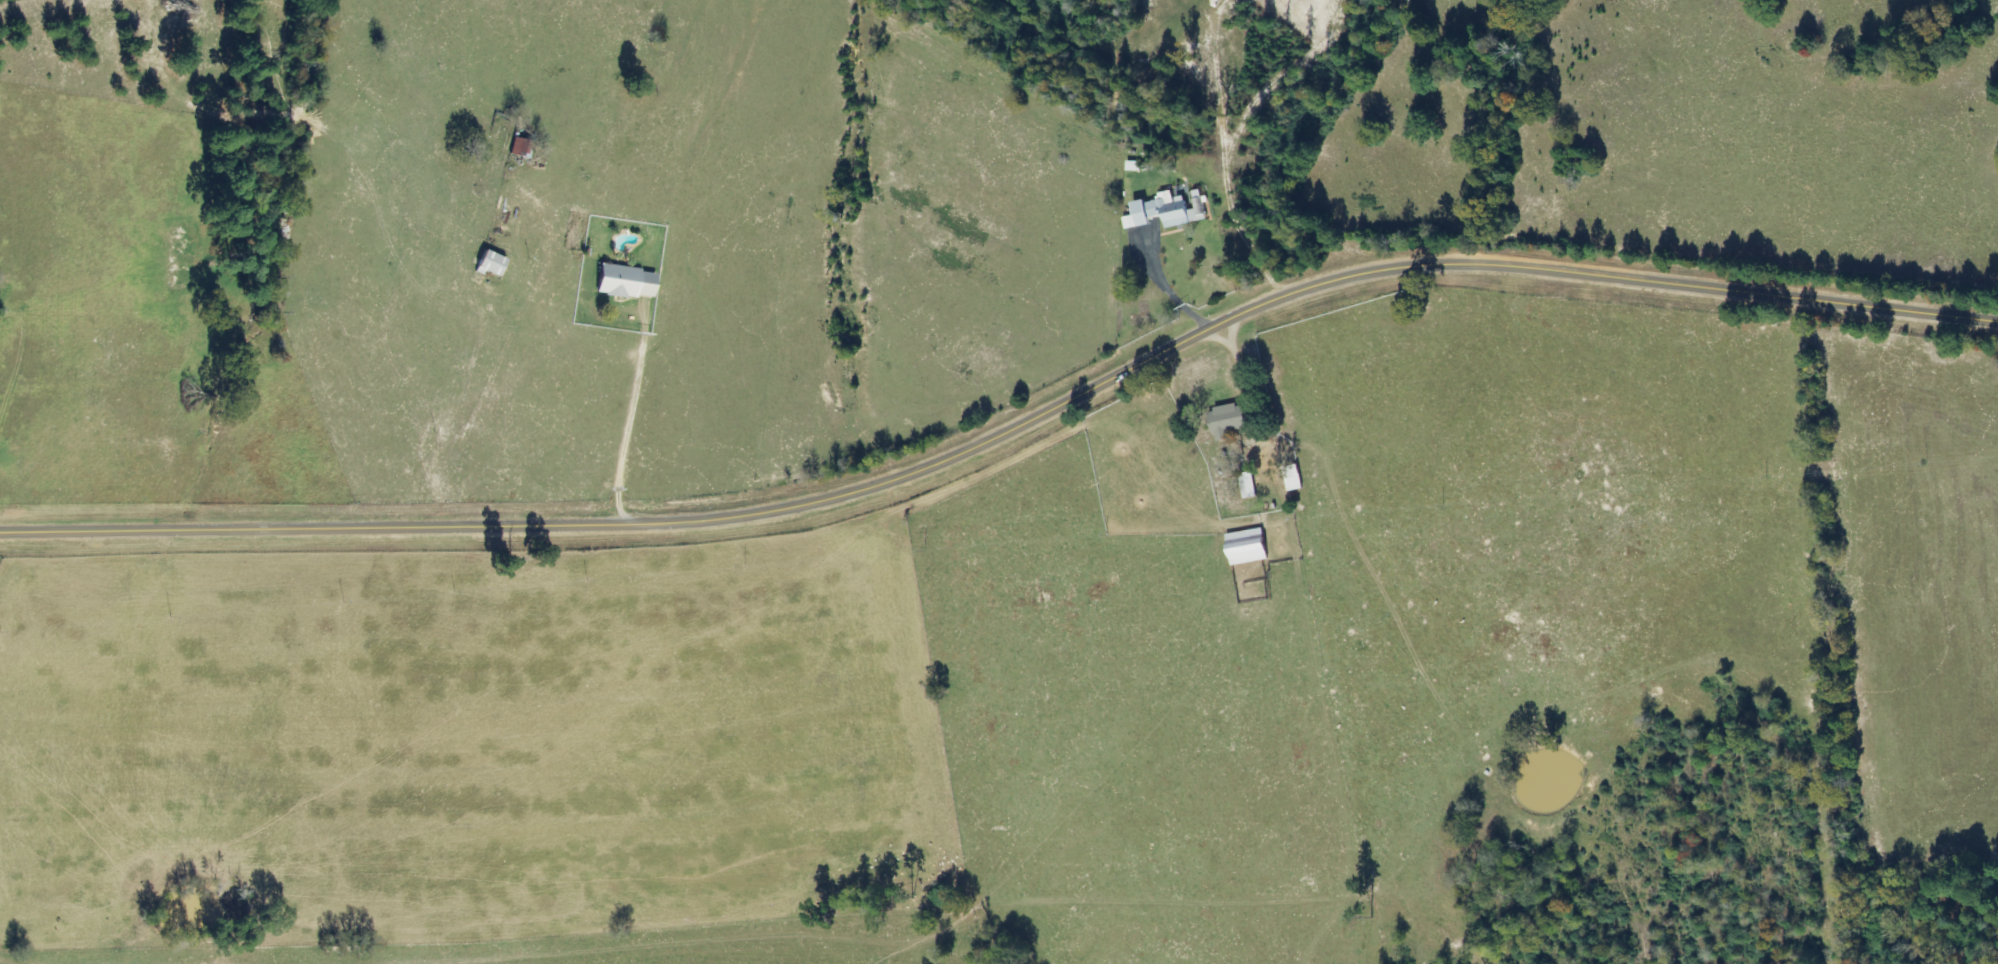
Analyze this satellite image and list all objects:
building: (521, 148)
building: (1133, 165)
building: (1166, 210)
building: (491, 264)
building: (626, 282)
building: (1227, 420)
road: (1010, 428)
building: (1247, 485)
building: (1246, 546)

